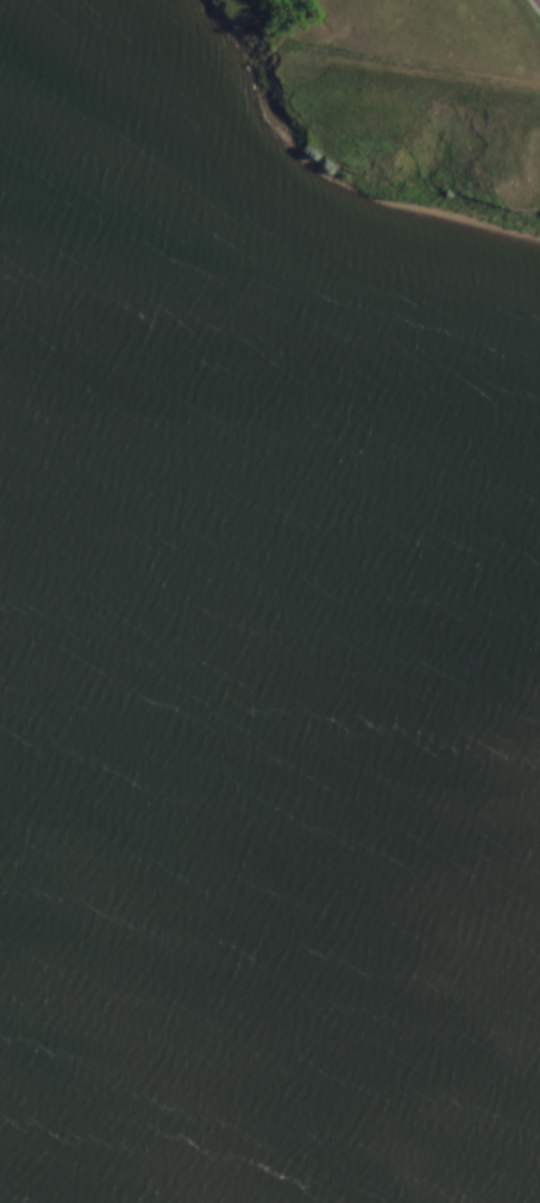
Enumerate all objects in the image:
road: (372, 57)

